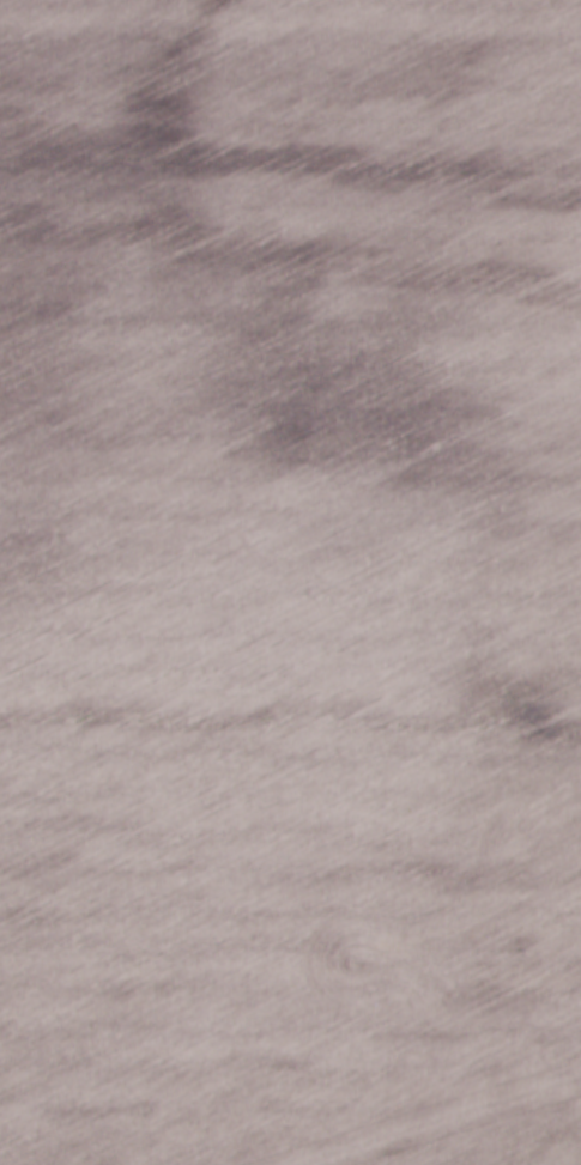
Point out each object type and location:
crop: (290, 581)

